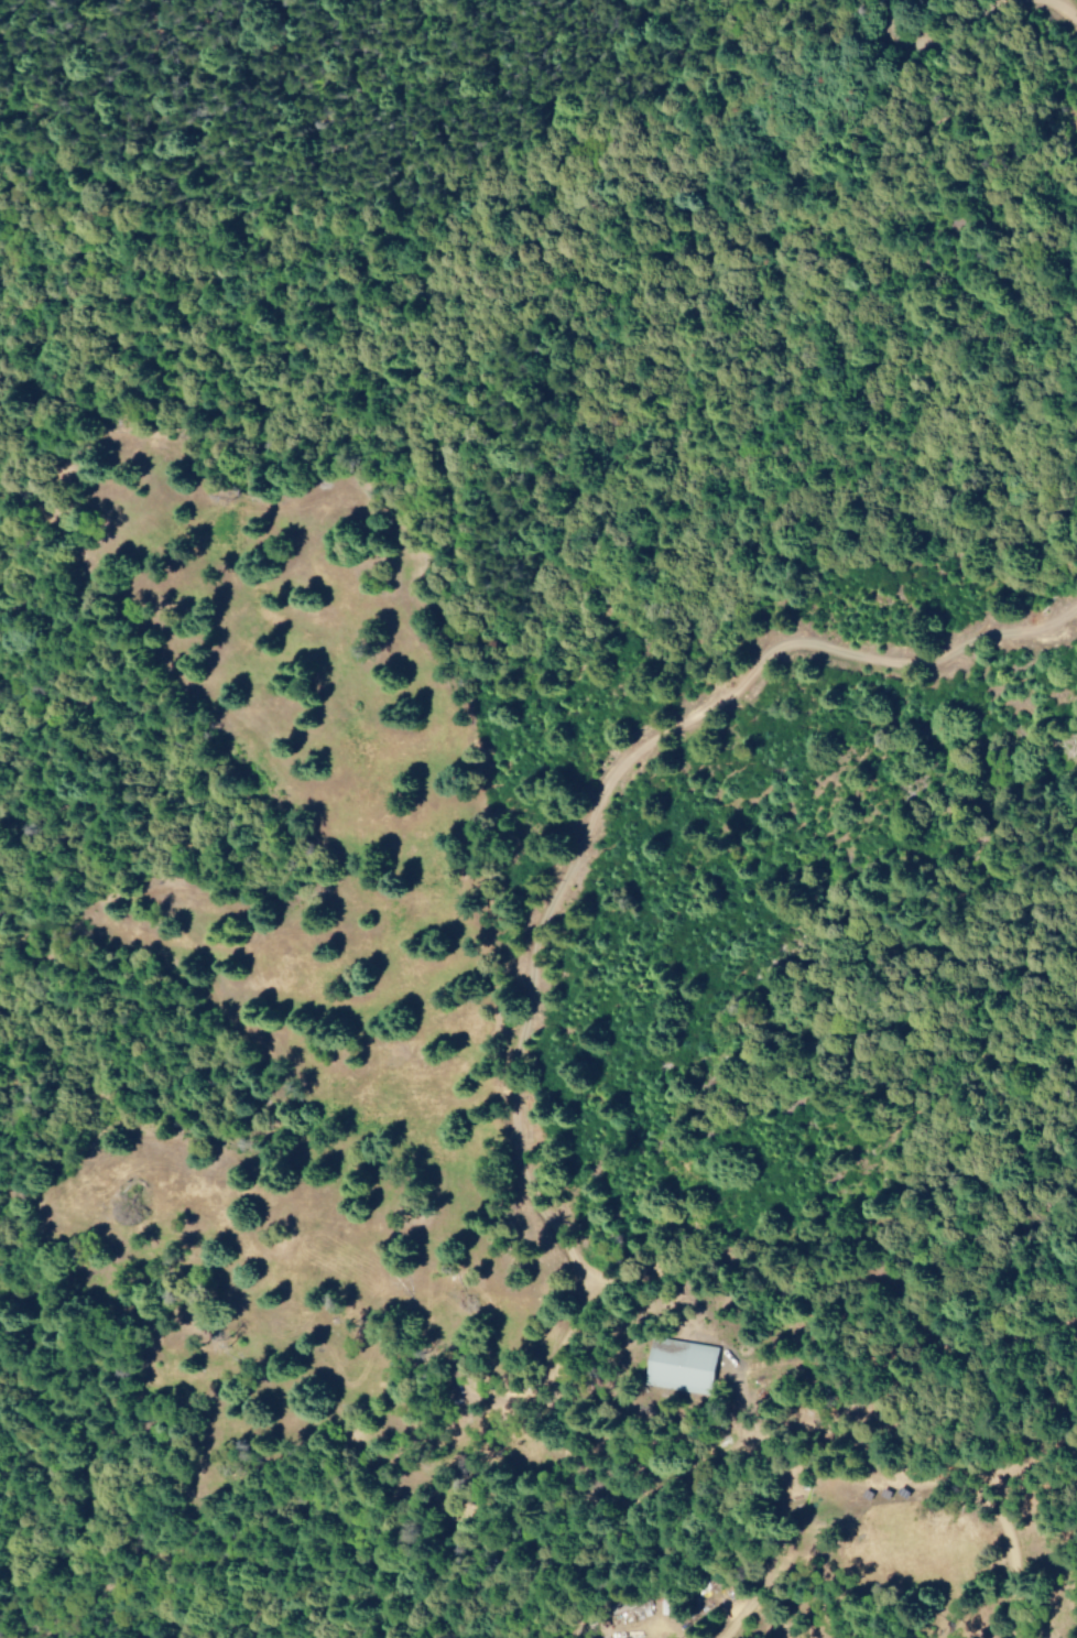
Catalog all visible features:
road: (977, 34)
road: (614, 769)
building: (686, 1366)

